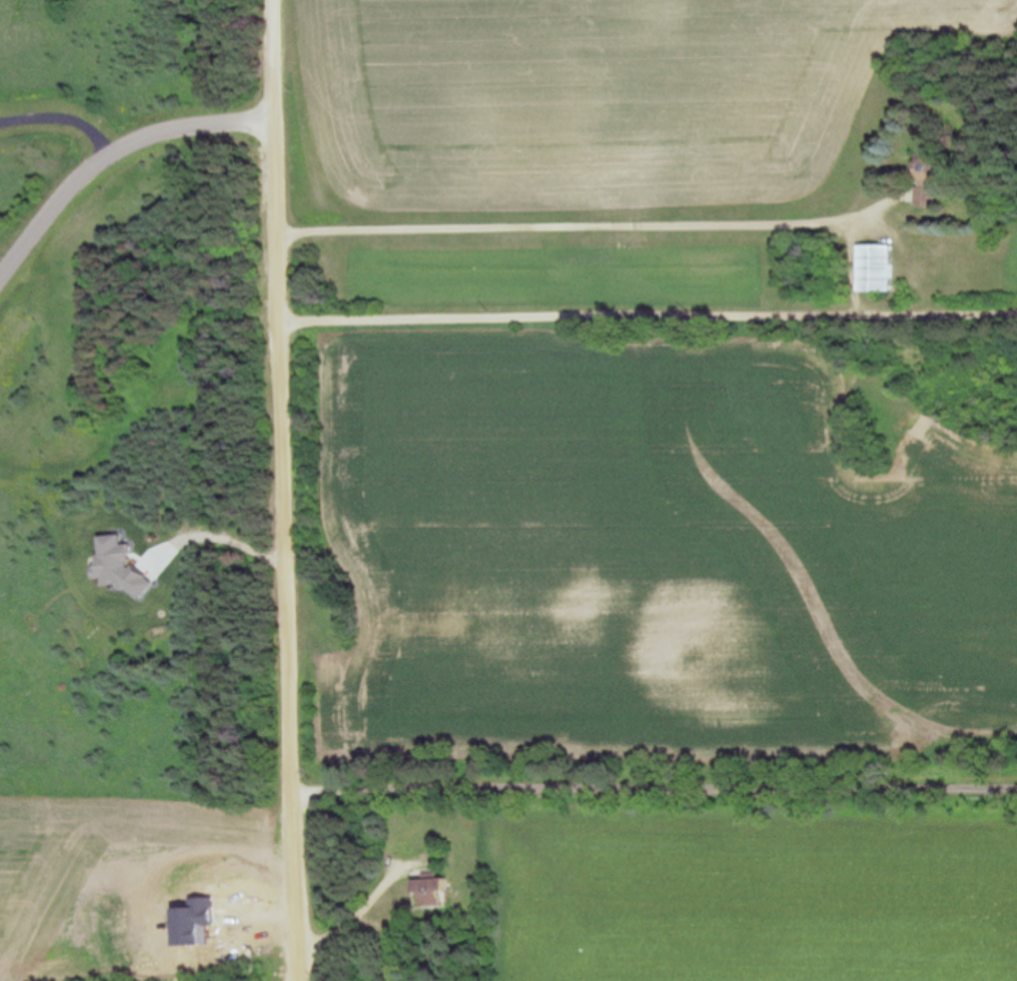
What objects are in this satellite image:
road: (60, 120)
road: (109, 149)
building: (928, 170)
building: (925, 198)
road: (591, 226)
building: (876, 267)
road: (649, 317)
road: (285, 490)
road: (221, 538)
road: (656, 783)
road: (380, 887)
building: (432, 888)

